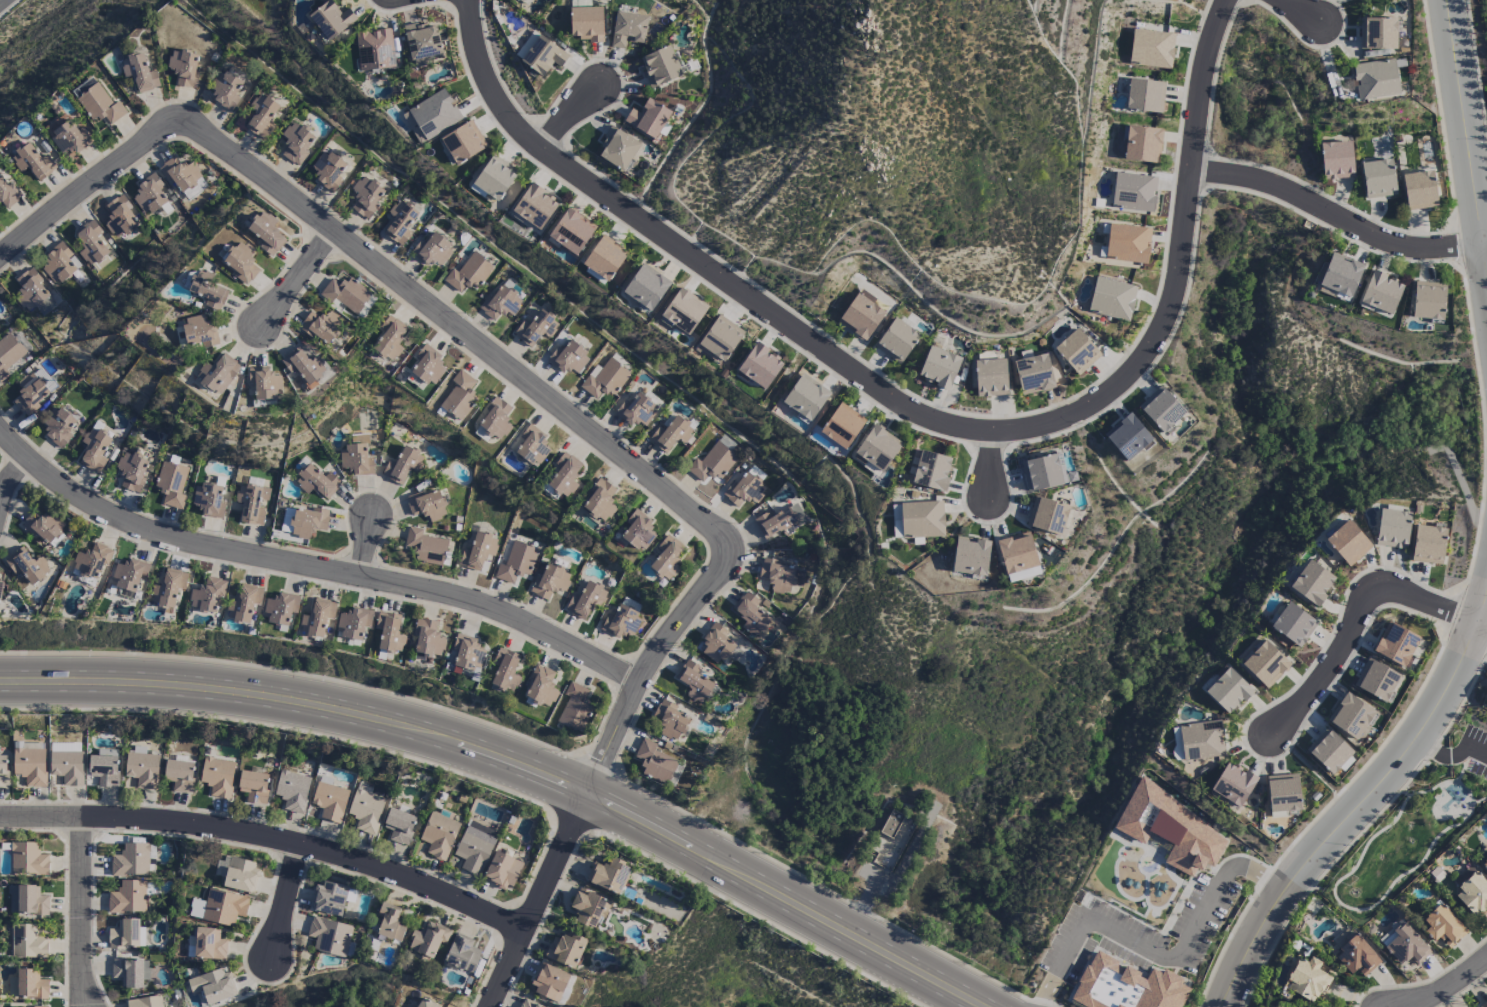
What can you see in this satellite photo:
road: (0, 0)
building: (522, 1)
road: (1301, 11)
building: (331, 20)
building: (586, 24)
building: (628, 29)
building: (1377, 33)
building: (424, 43)
building: (374, 50)
building: (1151, 50)
building: (540, 54)
building: (660, 66)
building: (184, 68)
building: (139, 73)
building: (1375, 79)
building: (226, 90)
building: (1145, 96)
building: (99, 105)
building: (261, 116)
building: (431, 117)
building: (648, 118)
road: (567, 120)
building: (69, 138)
road: (1467, 138)
building: (296, 143)
building: (463, 143)
building: (1142, 144)
building: (618, 149)
building: (1336, 160)
building: (32, 162)
building: (327, 171)
building: (183, 177)
building: (495, 178)
building: (1378, 179)
road: (87, 191)
building: (1419, 191)
building: (1133, 192)
building: (8, 194)
building: (148, 196)
building: (366, 196)
building: (535, 206)
building: (120, 217)
road: (1336, 218)
building: (400, 222)
building: (571, 232)
building: (266, 233)
building: (90, 243)
building: (1127, 244)
road: (1485, 246)
building: (432, 250)
building: (605, 258)
building: (241, 263)
building: (57, 265)
building: (468, 273)
building: (1340, 275)
road: (297, 276)
road: (400, 284)
building: (646, 287)
building: (208, 291)
building: (1381, 292)
building: (34, 293)
building: (346, 295)
building: (1112, 299)
building: (1428, 300)
building: (501, 302)
building: (366, 307)
building: (684, 311)
building: (860, 317)
building: (320, 326)
building: (535, 329)
building: (198, 333)
building: (720, 338)
building: (389, 339)
building: (896, 341)
building: (1077, 351)
building: (8, 354)
building: (568, 358)
building: (427, 365)
building: (760, 366)
building: (305, 367)
building: (939, 368)
building: (218, 374)
building: (1033, 374)
building: (990, 378)
building: (604, 379)
building: (264, 383)
building: (34, 391)
building: (459, 396)
building: (805, 397)
building: (1161, 409)
building: (636, 411)
road: (914, 413)
building: (495, 420)
building: (60, 426)
building: (842, 426)
building: (670, 434)
building: (1128, 438)
building: (532, 447)
building: (877, 448)
building: (95, 449)
building: (356, 460)
building: (712, 463)
building: (402, 465)
road: (990, 465)
building: (931, 471)
building: (132, 472)
building: (1042, 472)
building: (564, 475)
road: (11, 478)
building: (316, 482)
building: (171, 484)
building: (744, 491)
building: (210, 498)
building: (600, 501)
building: (252, 504)
building: (427, 505)
building: (1046, 516)
building: (921, 520)
building: (780, 521)
building: (303, 522)
building: (44, 527)
building: (1392, 529)
building: (639, 531)
building: (1348, 543)
building: (1428, 545)
building: (425, 547)
road: (366, 548)
building: (478, 552)
building: (1016, 553)
building: (970, 556)
building: (667, 558)
building: (92, 561)
building: (516, 563)
building: (27, 566)
road: (312, 566)
building: (129, 574)
building: (1023, 574)
building: (780, 576)
building: (0, 582)
building: (549, 582)
building: (1312, 583)
building: (168, 588)
building: (207, 596)
building: (585, 600)
building: (244, 603)
building: (280, 608)
road: (689, 608)
building: (751, 614)
building: (317, 618)
building: (622, 620)
building: (353, 623)
road: (1357, 623)
building: (1293, 625)
road: (1482, 628)
building: (389, 632)
building: (428, 639)
building: (716, 644)
building: (1395, 644)
building: (466, 656)
building: (1265, 664)
building: (505, 670)
building: (693, 681)
building: (1377, 681)
building: (541, 686)
building: (1228, 691)
building: (574, 708)
building: (1350, 716)
building: (669, 720)
building: (1201, 740)
building: (1328, 751)
road: (1453, 753)
road: (525, 758)
building: (654, 762)
building: (67, 764)
building: (30, 766)
building: (104, 768)
building: (3, 770)
building: (142, 770)
road: (504, 770)
building: (179, 775)
park: (923, 776)
building: (217, 777)
road: (1459, 782)
building: (1232, 784)
building: (253, 787)
building: (292, 791)
building: (1283, 795)
building: (329, 802)
road: (1361, 809)
building: (365, 812)
building: (399, 826)
park: (1417, 826)
building: (1173, 831)
building: (438, 835)
road: (270, 839)
building: (890, 846)
building: (475, 847)
building: (27, 859)
building: (131, 861)
building: (1484, 864)
building: (502, 871)
building: (241, 875)
building: (609, 876)
building: (1473, 894)
building: (127, 898)
building: (329, 899)
building: (26, 900)
road: (1337, 901)
road: (538, 902)
road: (284, 904)
road: (865, 906)
building: (219, 908)
building: (588, 908)
road: (79, 913)
building: (389, 922)
building: (1443, 927)
building: (124, 934)
building: (329, 936)
building: (428, 939)
building: (26, 942)
building: (209, 944)
building: (1404, 945)
building: (566, 949)
building: (462, 954)
road: (1162, 955)
building: (1356, 957)
building: (130, 972)
building: (1307, 979)
building: (549, 982)
building: (27, 985)
building: (212, 986)
building: (1126, 986)
road: (1447, 988)
building: (145, 1002)
building: (425, 1003)
building: (529, 1004)
building: (1485, 1005)

